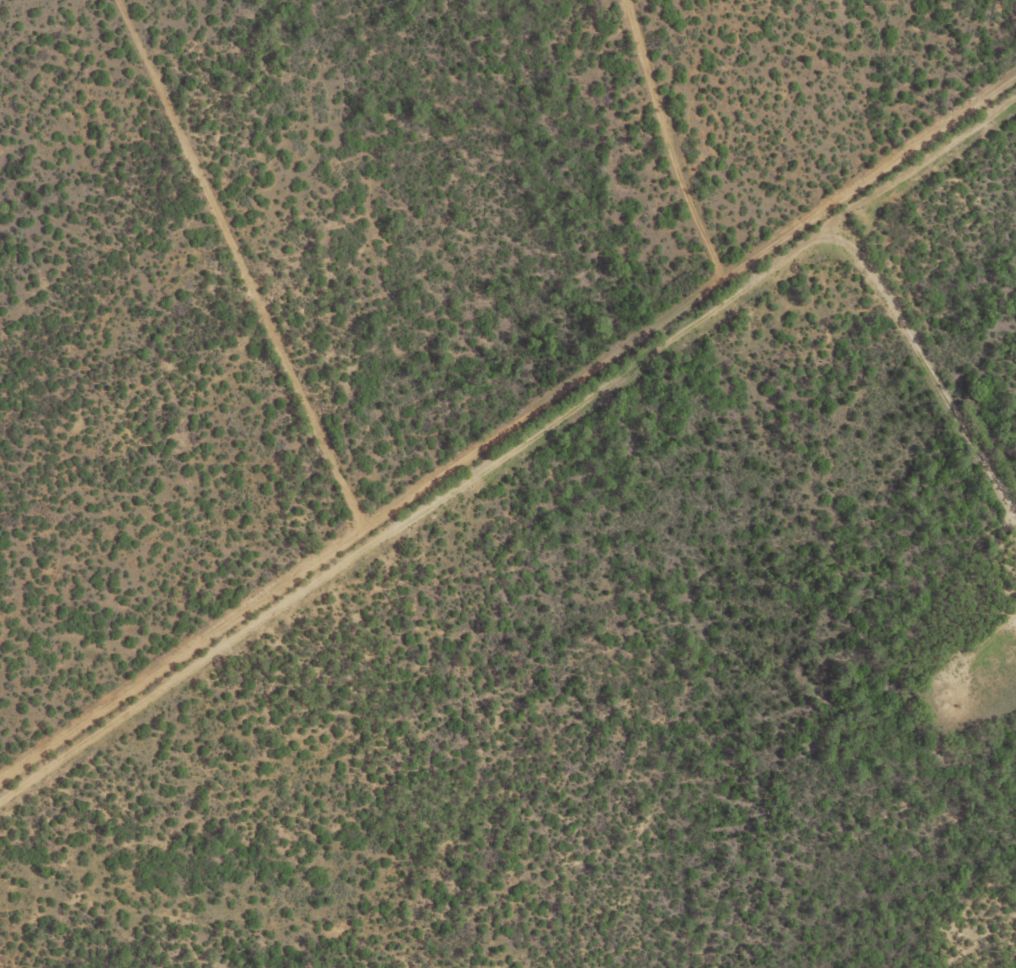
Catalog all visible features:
road: (709, 361)
road: (375, 512)

